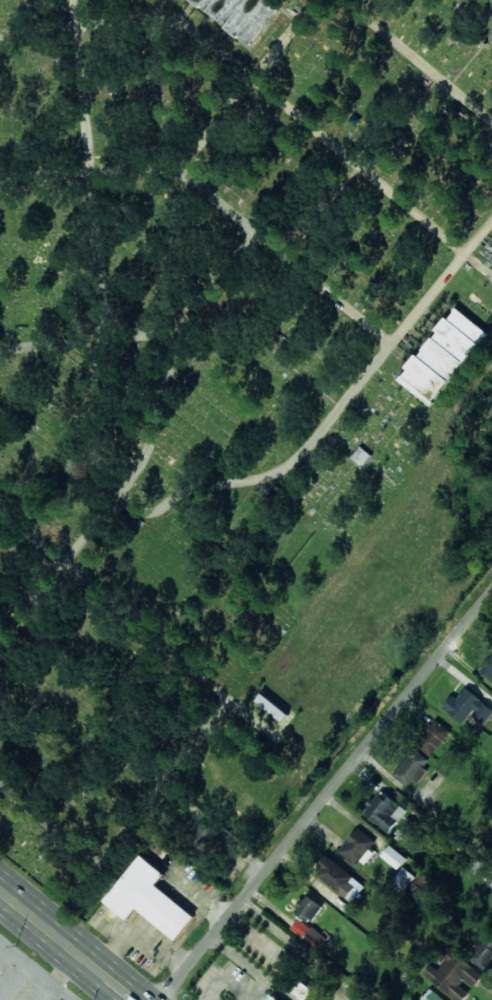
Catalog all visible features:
road: (356, 3)
park: (482, 7)
building: (241, 15)
road: (50, 29)
road: (418, 61)
road: (244, 86)
road: (81, 98)
road: (215, 200)
road: (150, 333)
park: (210, 354)
building: (443, 356)
road: (331, 417)
building: (361, 457)
road: (114, 498)
building: (488, 668)
building: (271, 704)
building: (468, 707)
building: (264, 728)
building: (433, 738)
building: (411, 771)
road: (327, 796)
building: (385, 811)
building: (203, 834)
building: (359, 847)
building: (394, 857)
building: (404, 878)
building: (340, 879)
road: (3, 895)
building: (149, 899)
building: (309, 909)
building: (314, 938)
road: (70, 943)
building: (483, 953)
road: (67, 968)
road: (35, 970)
building: (453, 974)
building: (303, 991)
building: (431, 996)
building: (277, 999)

